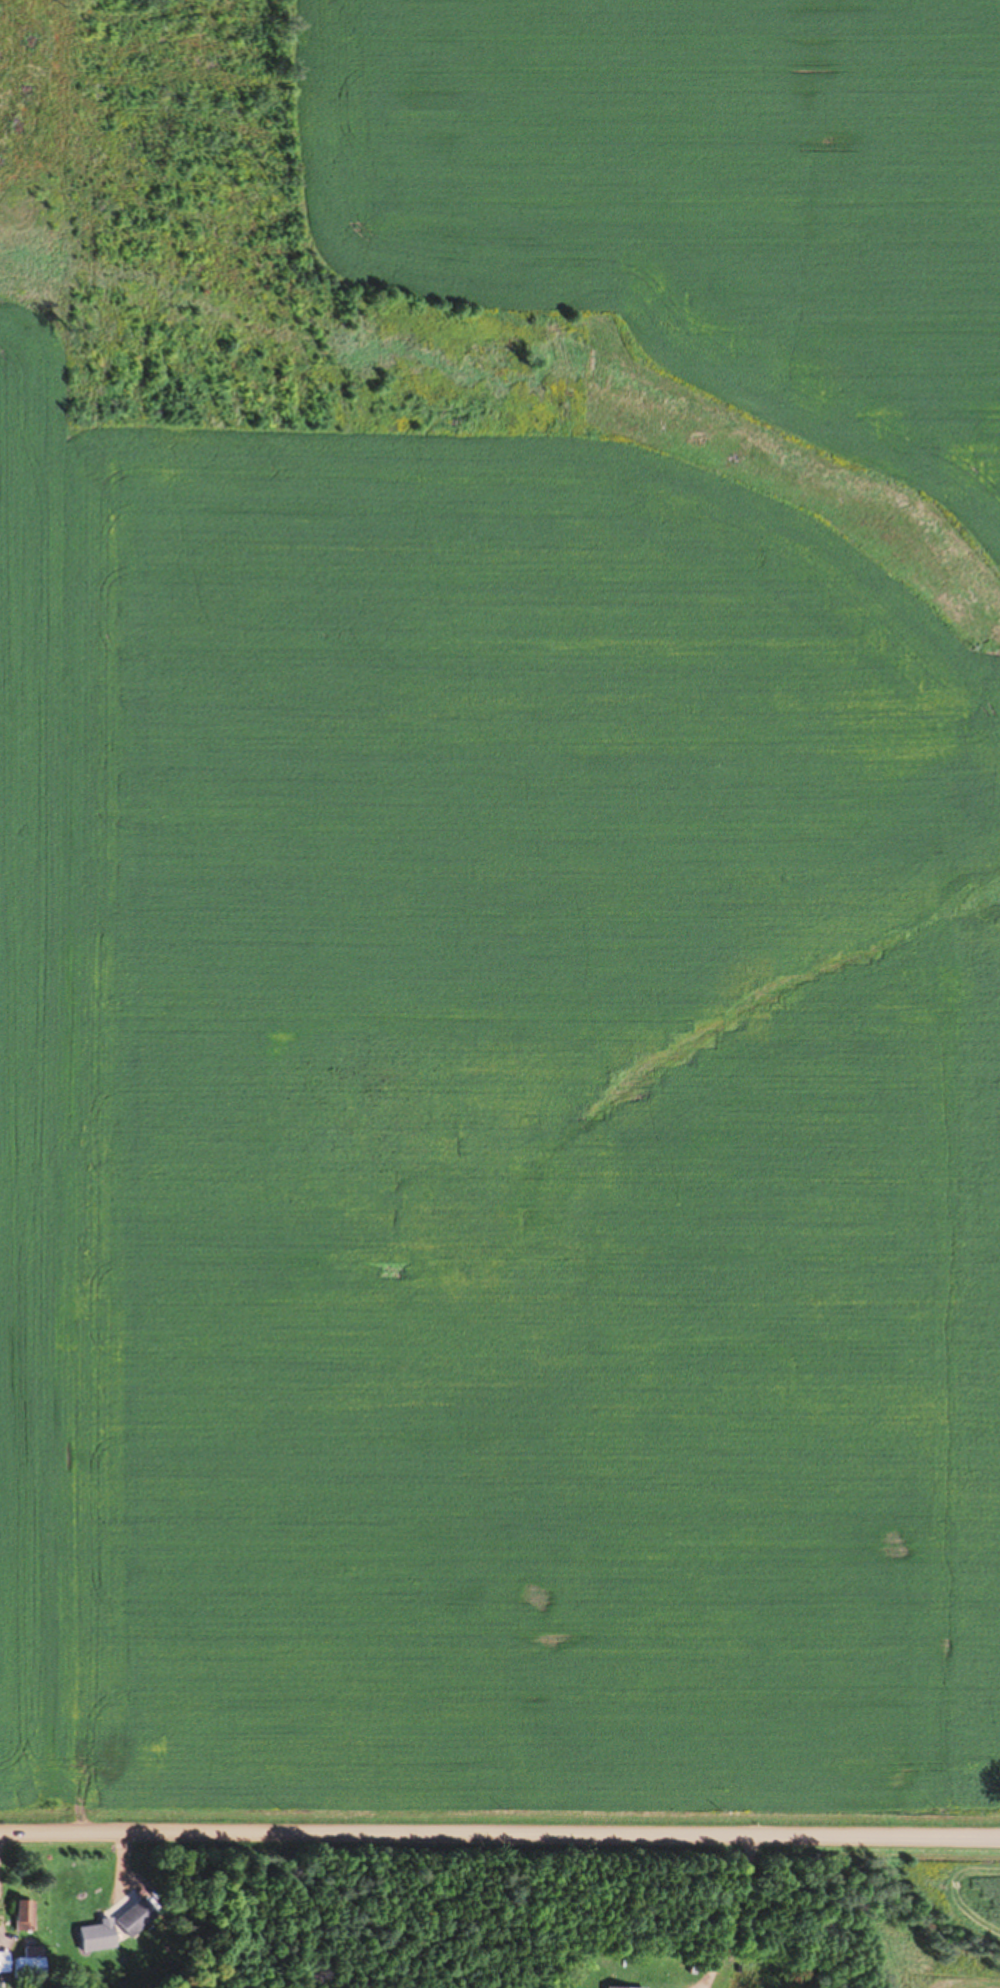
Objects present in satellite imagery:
road: (500, 1836)
building: (22, 1915)
building: (117, 1921)
building: (3, 1961)
building: (26, 1963)

